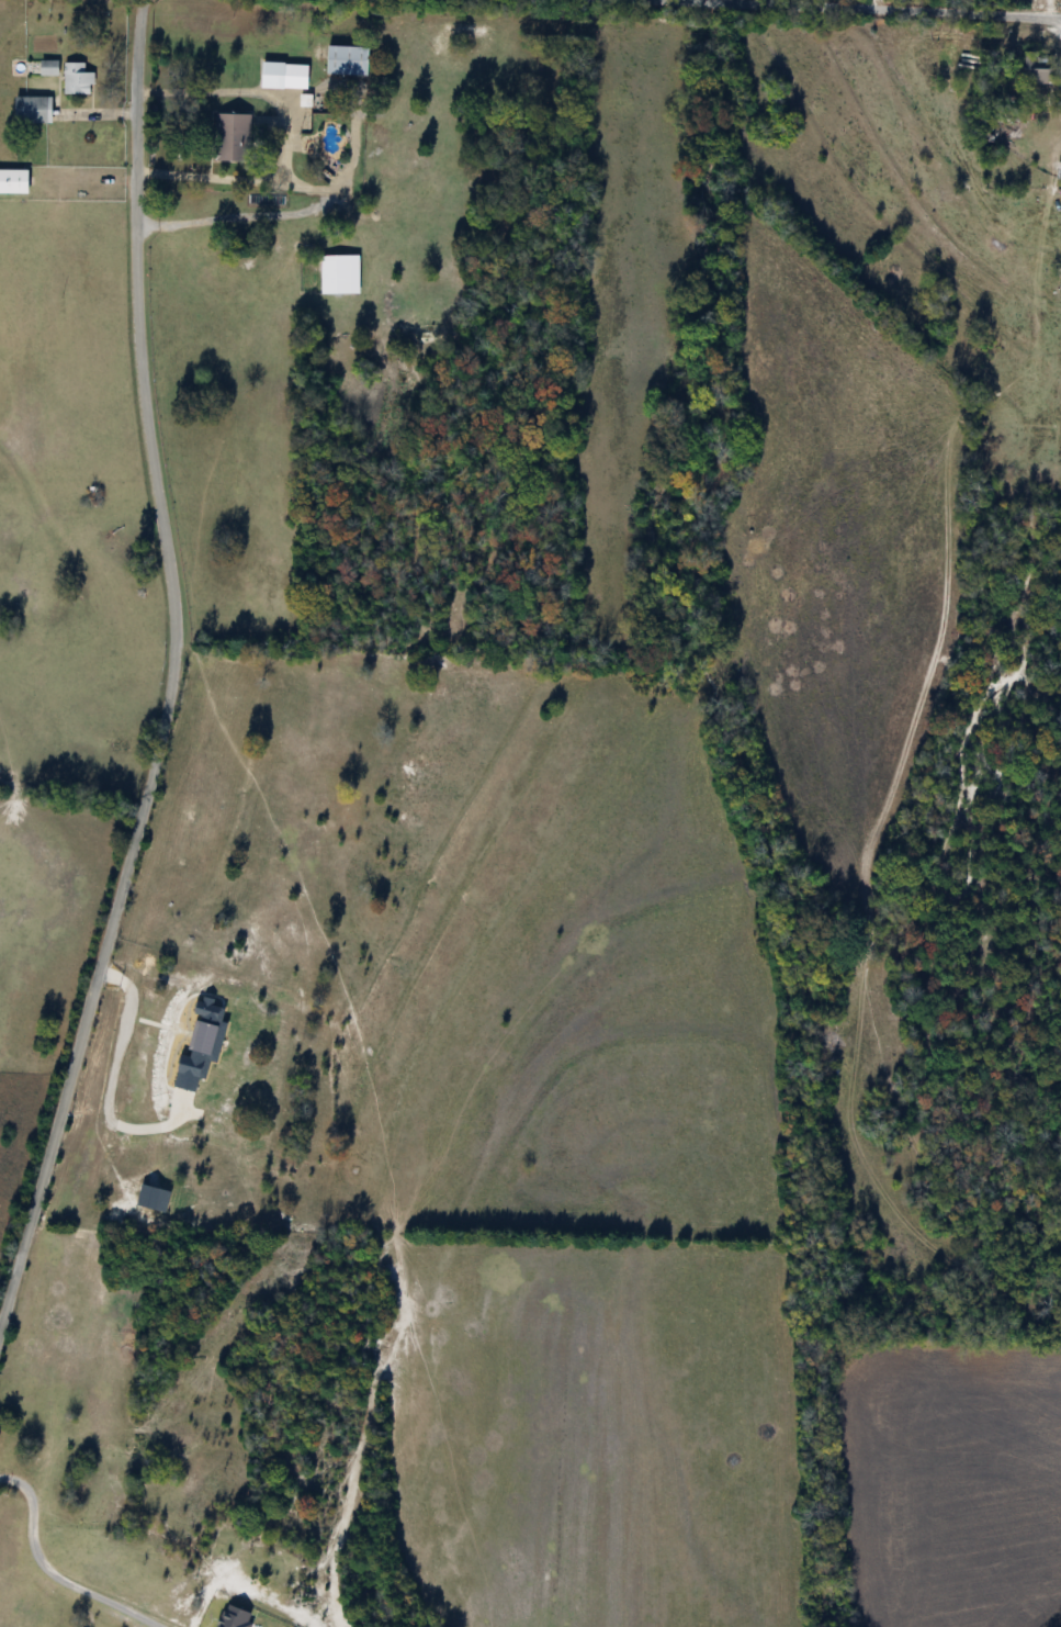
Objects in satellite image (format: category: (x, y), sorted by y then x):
road: (887, 8)
building: (345, 60)
building: (47, 68)
building: (1034, 71)
building: (282, 76)
building: (76, 80)
road: (246, 91)
building: (27, 111)
building: (229, 136)
building: (1058, 172)
road: (234, 178)
building: (12, 181)
road: (271, 213)
building: (334, 272)
building: (1059, 278)
road: (172, 671)
road: (958, 761)
road: (52, 1570)

